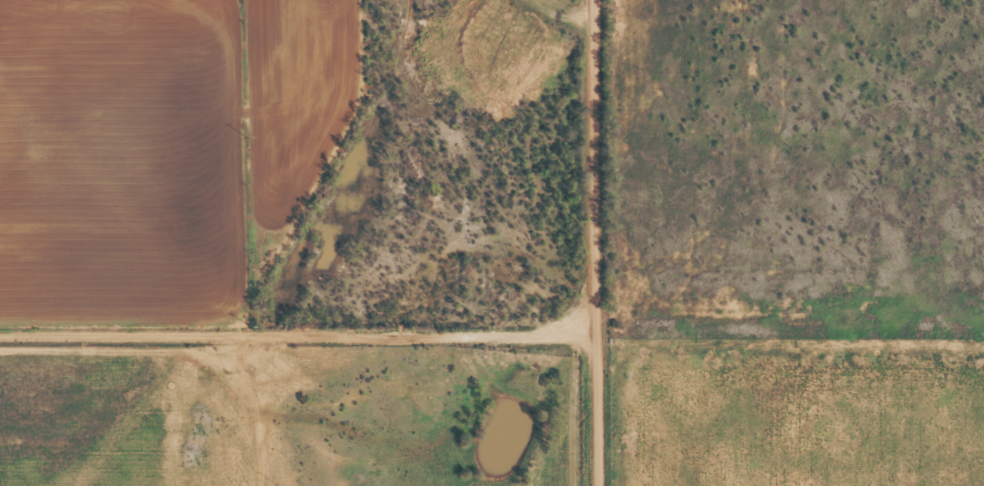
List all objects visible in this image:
road: (736, 153)
road: (636, 242)
road: (654, 301)
road: (318, 306)
road: (828, 308)

